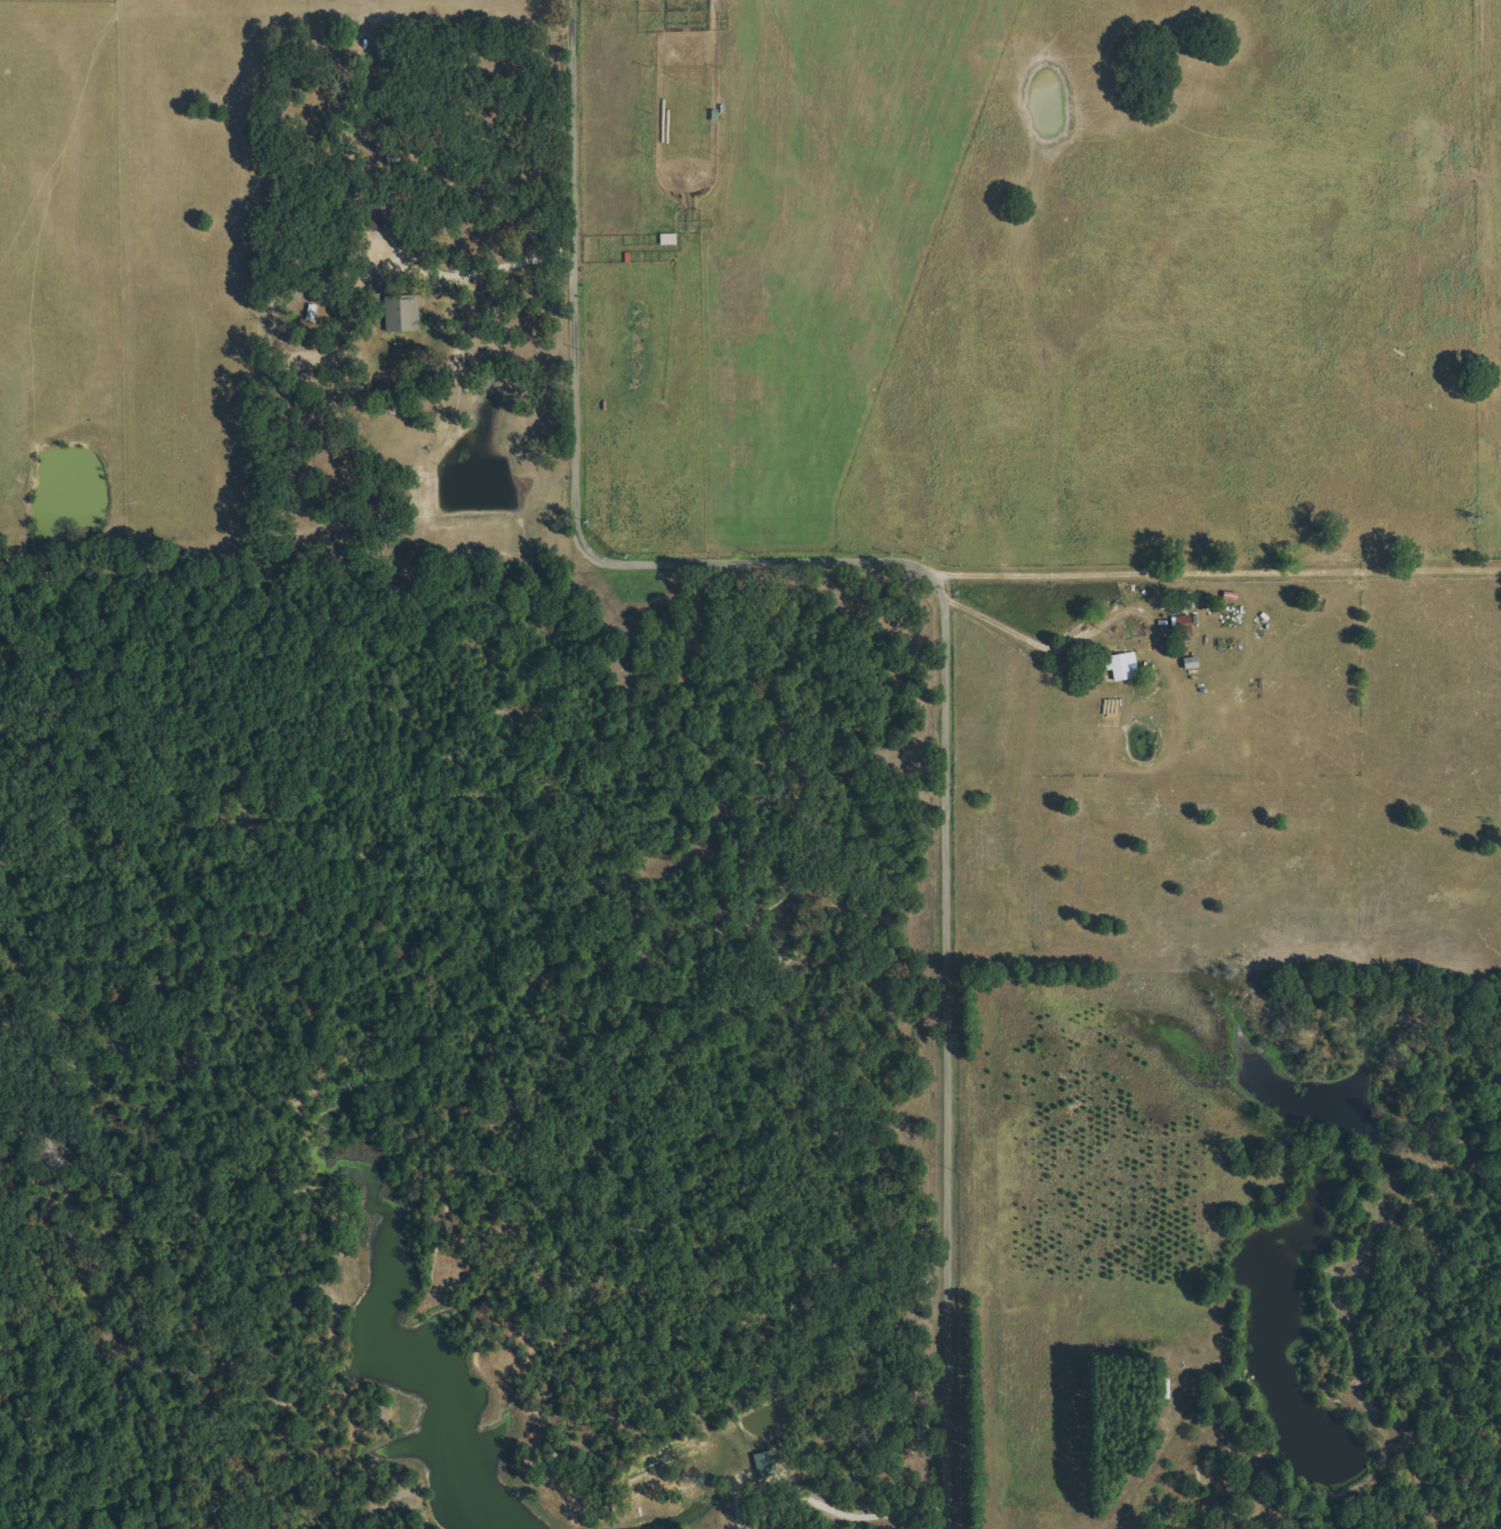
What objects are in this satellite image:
building: (387, 285)
building: (404, 314)
road: (943, 598)
building: (1195, 663)
building: (1127, 666)
road: (845, 1516)

